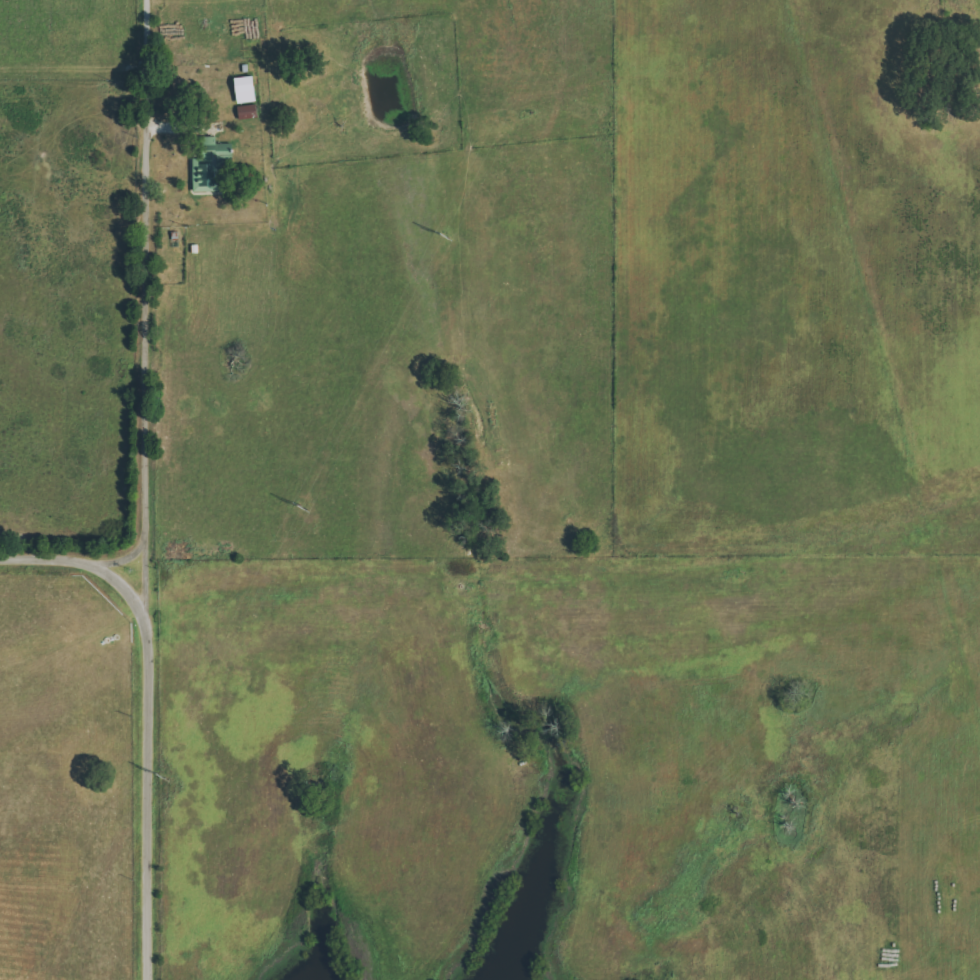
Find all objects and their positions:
building: (214, 171)
power tower: (429, 235)
road: (146, 494)
power tower: (295, 506)
road: (67, 560)
power tower: (162, 774)

